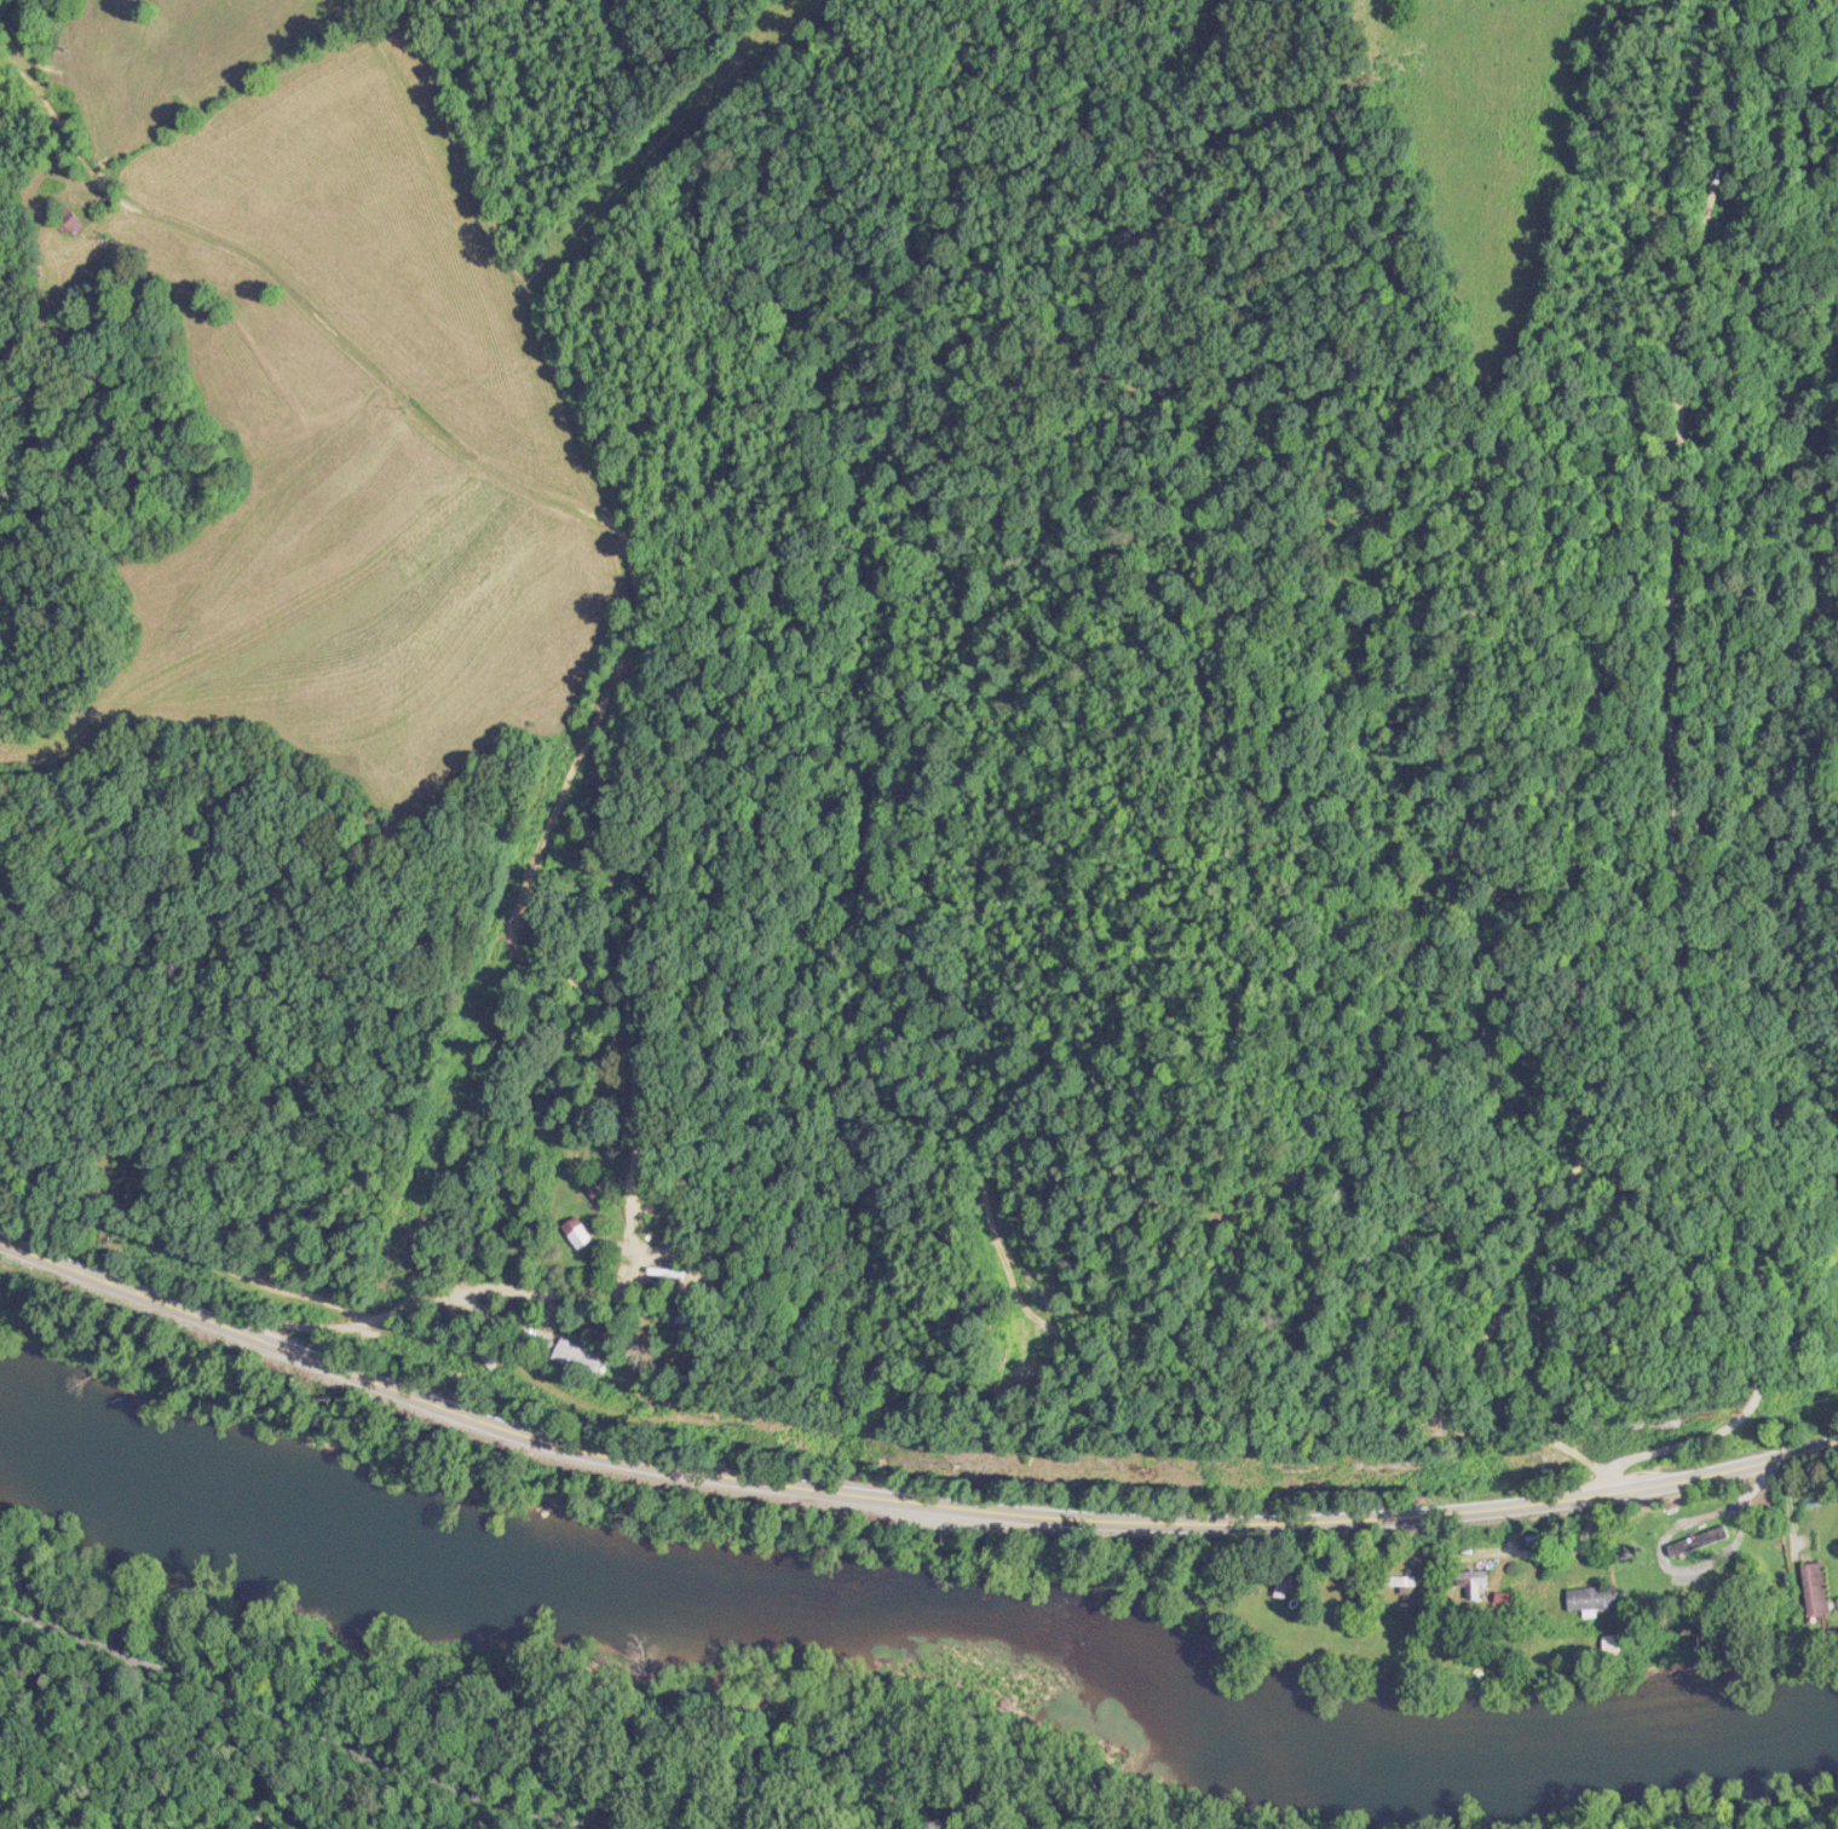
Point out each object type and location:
building: (68, 218)
road: (605, 630)
building: (576, 1230)
building: (662, 1271)
building: (576, 1356)
road: (903, 1498)
building: (1284, 1585)
building: (1815, 1586)
building: (1591, 1596)
river: (949, 1611)
road: (350, 1733)
road: (350, 1733)

